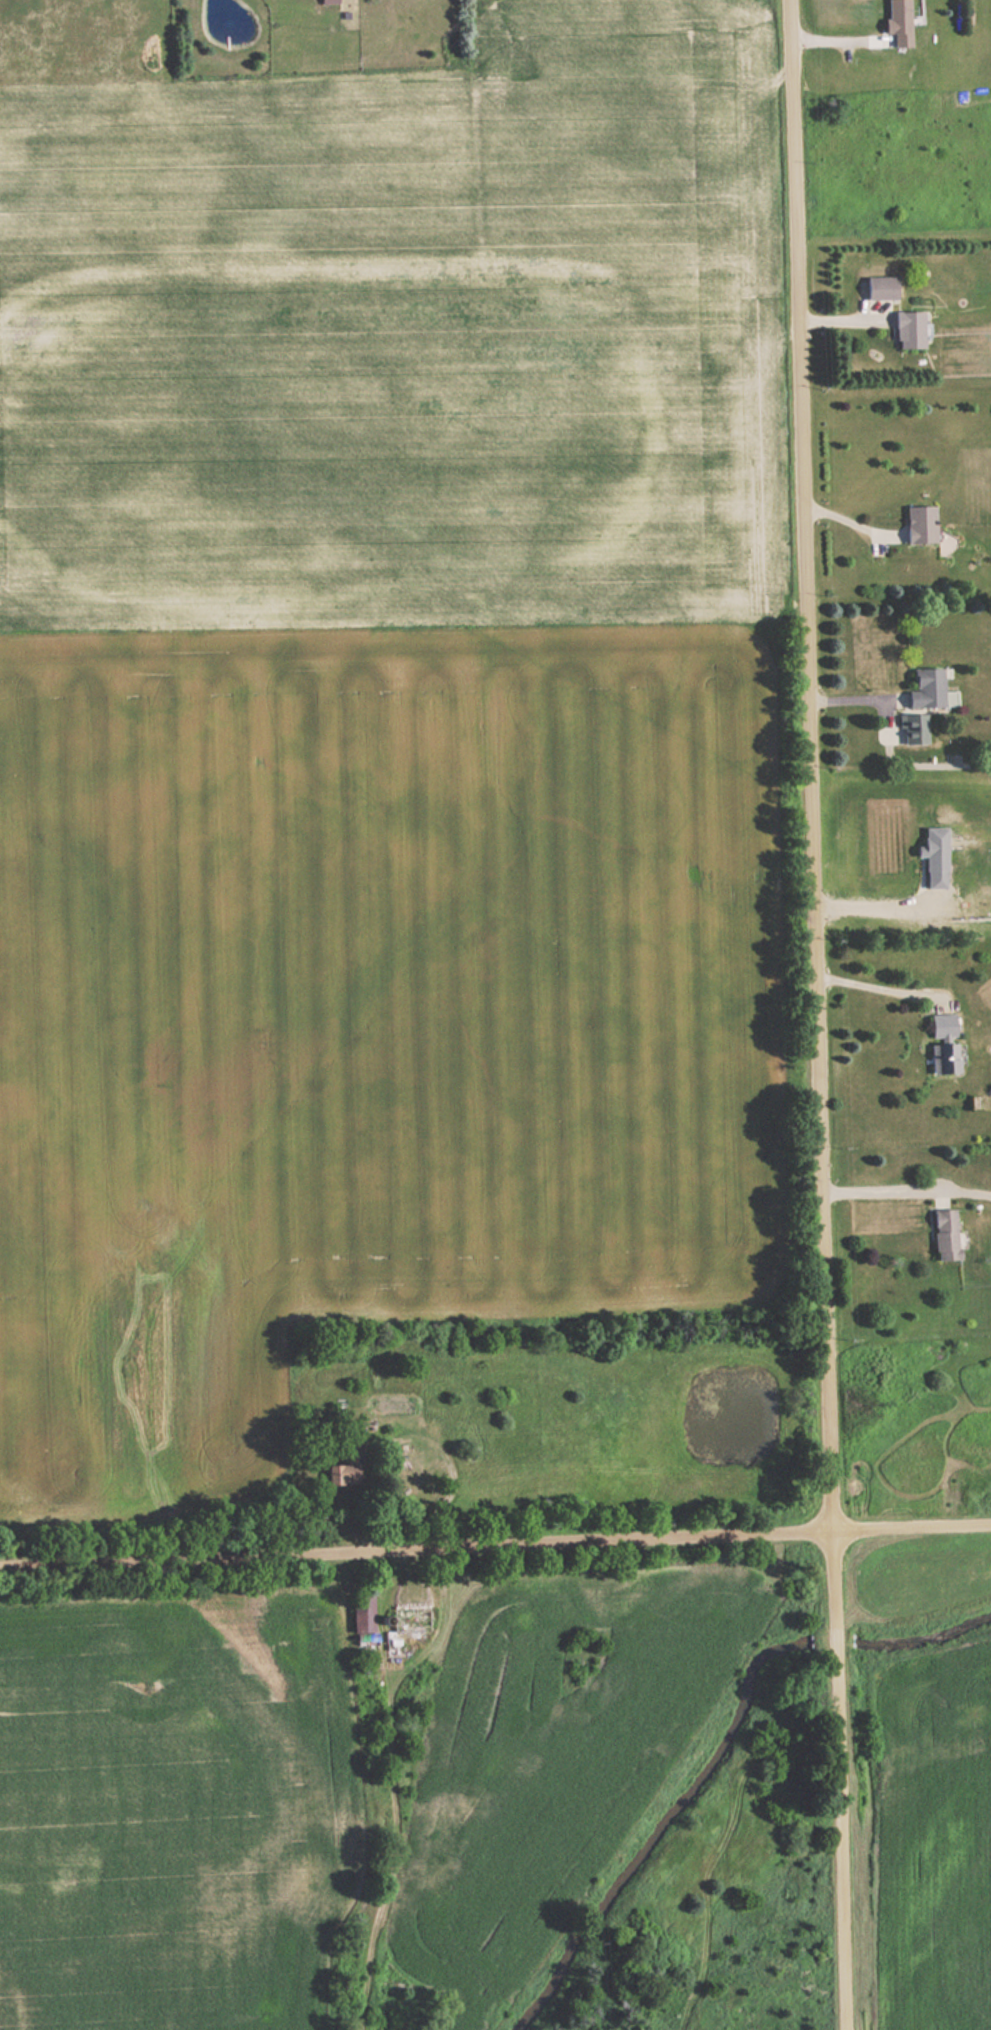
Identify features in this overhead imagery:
building: (898, 21)
building: (880, 292)
building: (909, 329)
building: (920, 524)
building: (928, 688)
building: (936, 858)
road: (815, 1015)
building: (943, 1026)
building: (944, 1059)
building: (946, 1234)
building: (352, 1450)
building: (343, 1473)
road: (495, 1539)
building: (363, 1613)

